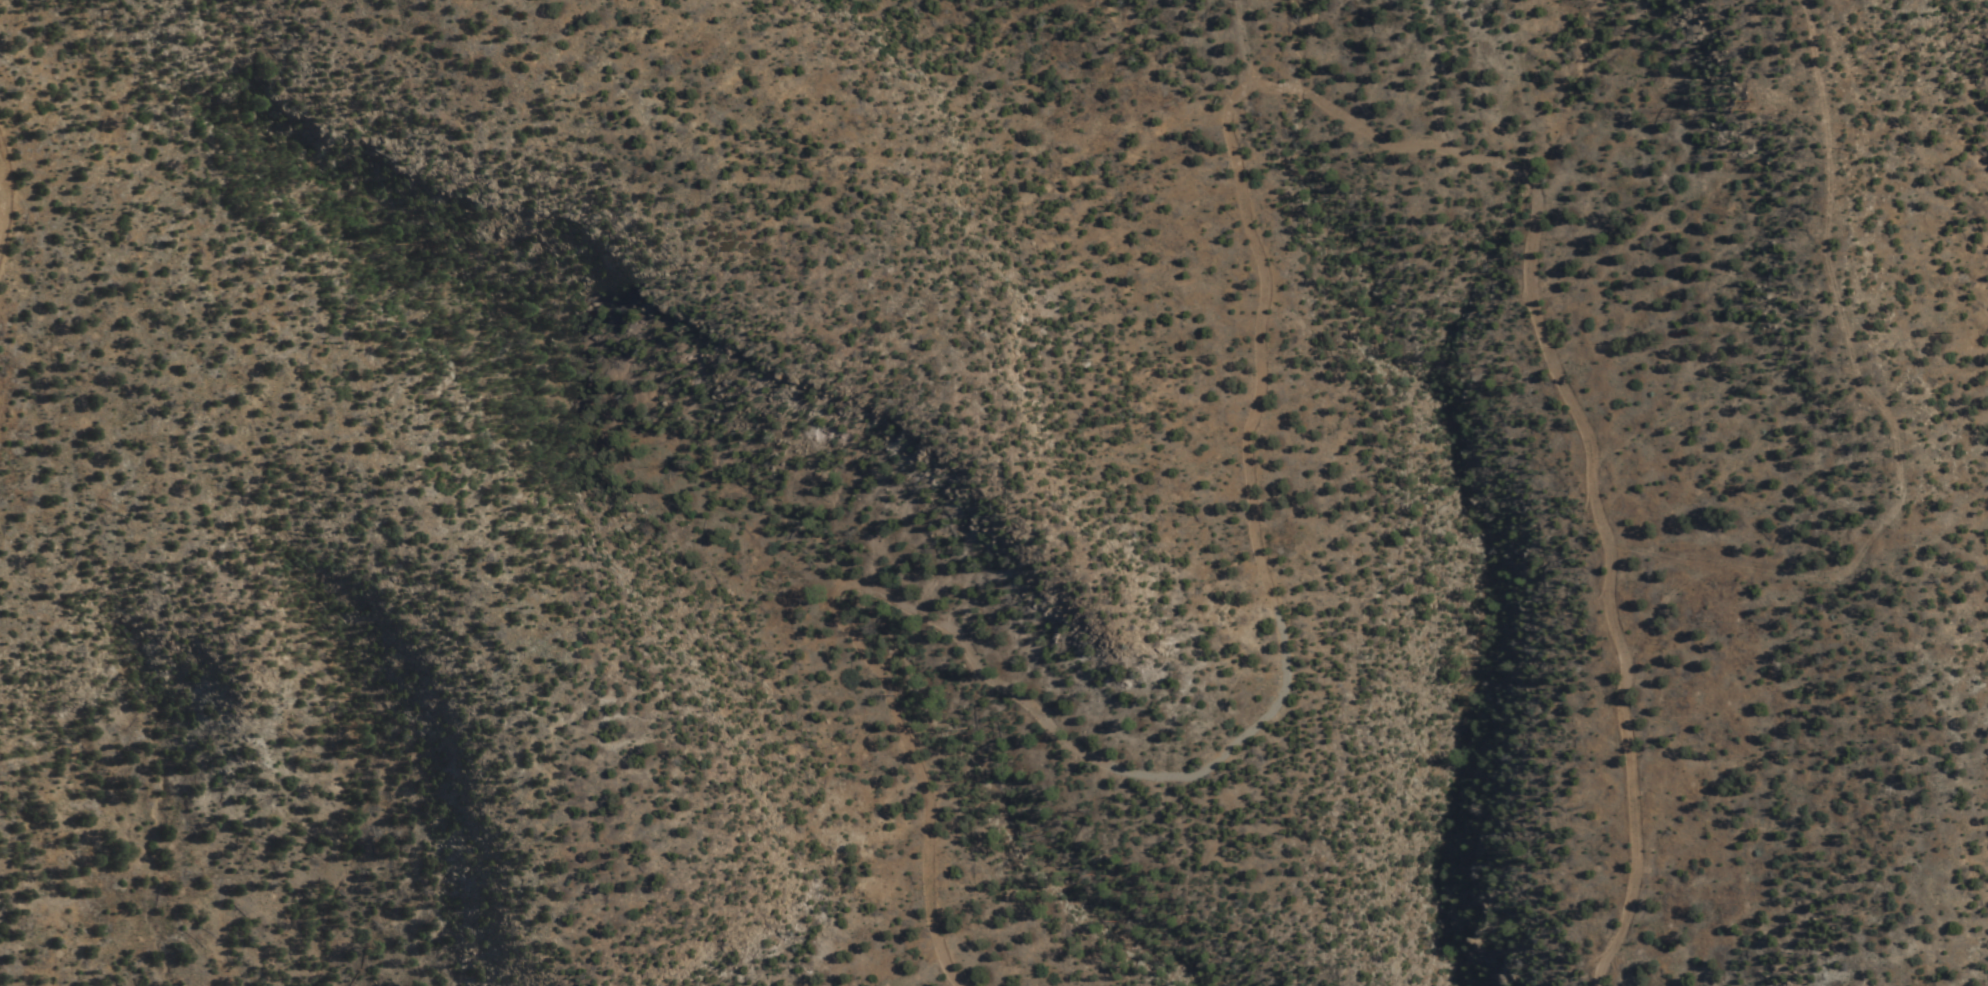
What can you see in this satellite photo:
road: (1260, 305)
road: (1892, 417)

